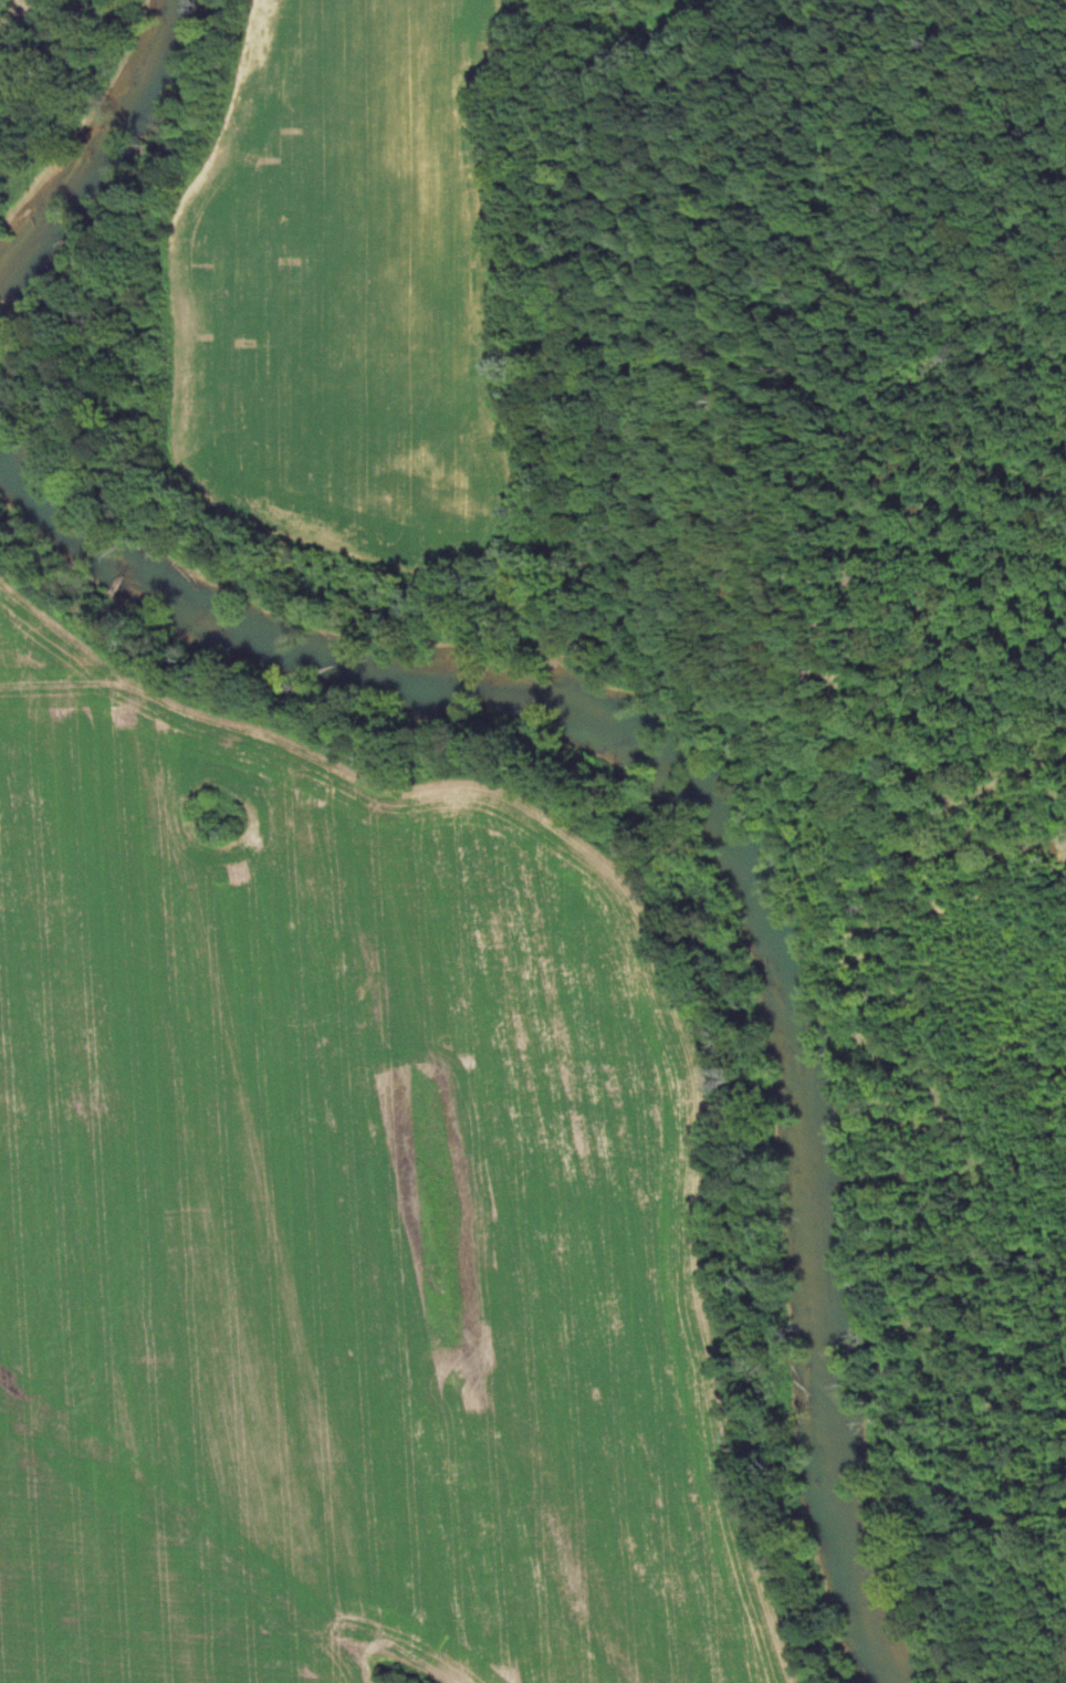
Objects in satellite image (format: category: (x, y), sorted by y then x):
river: (103, 144)
river: (725, 850)

